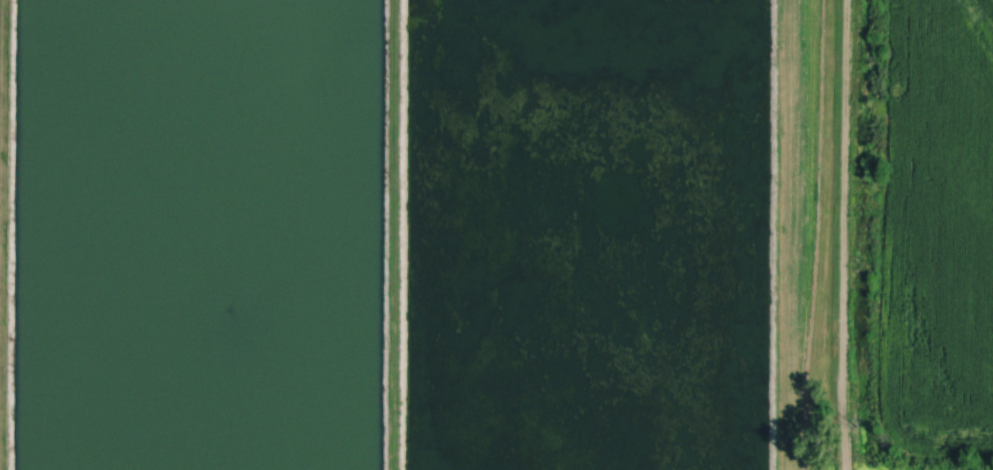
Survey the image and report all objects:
road: (845, 234)

